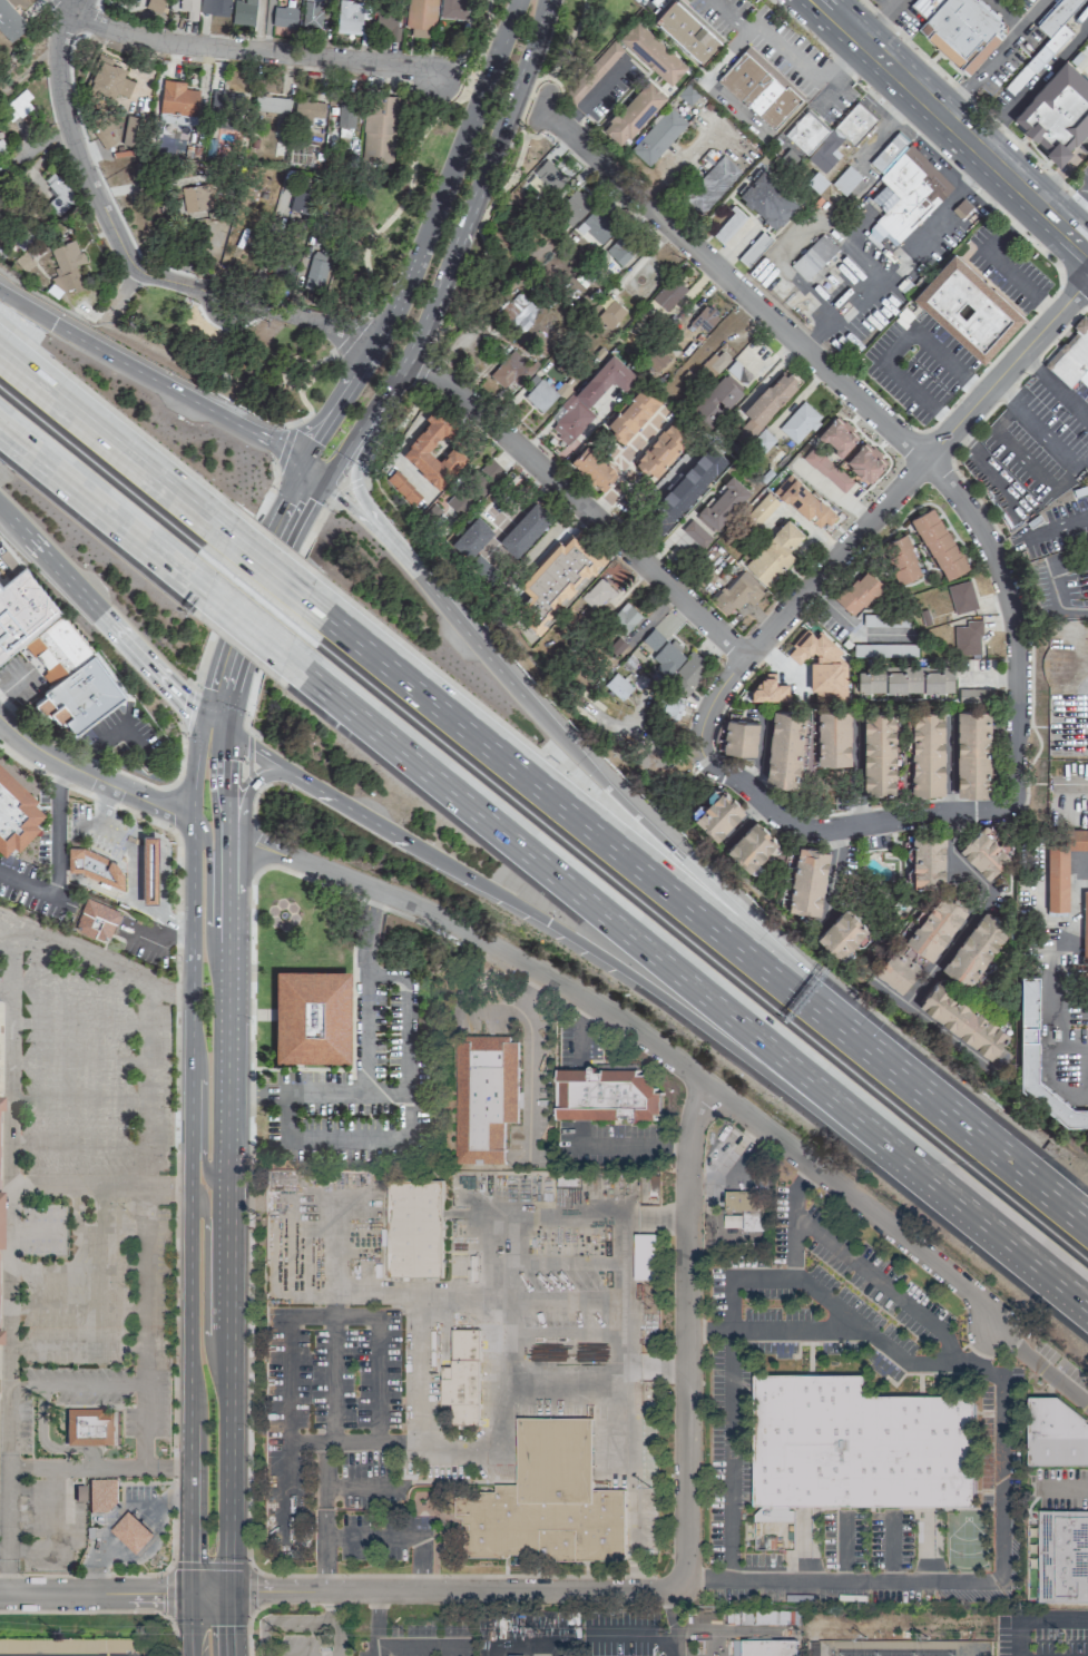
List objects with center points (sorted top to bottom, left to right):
building: (658, 2)
building: (150, 4)
building: (214, 7)
building: (188, 8)
building: (452, 9)
building: (243, 12)
building: (311, 12)
road: (1013, 13)
road: (1038, 13)
road: (884, 14)
building: (283, 16)
building: (349, 17)
building: (421, 17)
building: (10, 21)
building: (384, 21)
building: (960, 30)
building: (688, 31)
building: (1045, 43)
road: (243, 50)
building: (653, 53)
road: (989, 67)
building: (594, 71)
road: (813, 75)
building: (109, 78)
building: (761, 88)
road: (594, 95)
building: (688, 95)
building: (272, 104)
road: (974, 104)
building: (16, 106)
building: (225, 108)
building: (308, 108)
building: (1057, 111)
building: (634, 112)
building: (344, 115)
road: (962, 116)
building: (131, 130)
building: (379, 130)
building: (658, 135)
building: (829, 135)
road: (940, 135)
road: (915, 136)
road: (69, 137)
road: (411, 153)
road: (1065, 166)
building: (545, 178)
road: (509, 179)
building: (846, 180)
building: (712, 185)
building: (904, 188)
building: (55, 194)
building: (198, 197)
building: (767, 198)
building: (298, 199)
road: (1077, 203)
road: (944, 205)
building: (575, 206)
building: (728, 225)
building: (598, 226)
road: (425, 238)
road: (732, 246)
building: (754, 248)
road: (452, 249)
building: (620, 252)
building: (814, 257)
building: (66, 265)
building: (314, 268)
road: (1076, 284)
road: (121, 290)
building: (670, 294)
road: (856, 296)
road: (254, 304)
building: (517, 306)
building: (968, 307)
building: (611, 313)
building: (705, 317)
traffic signals: (51, 323)
road: (352, 334)
road: (896, 346)
building: (1072, 356)
road: (321, 359)
building: (657, 360)
building: (716, 363)
road: (280, 364)
road: (421, 370)
building: (510, 370)
road: (149, 378)
road: (1053, 385)
building: (539, 395)
building: (590, 396)
building: (716, 400)
building: (765, 403)
road: (306, 409)
building: (631, 413)
road: (878, 414)
building: (798, 422)
road: (390, 432)
road: (1040, 432)
building: (836, 434)
road: (112, 443)
road: (572, 443)
road: (282, 448)
building: (415, 448)
building: (660, 449)
road: (986, 460)
road: (623, 461)
traffic signals: (301, 462)
building: (864, 462)
building: (592, 468)
building: (826, 469)
road: (311, 471)
traffic signals: (321, 481)
road: (353, 484)
building: (474, 486)
road: (343, 488)
building: (403, 488)
building: (674, 500)
building: (804, 501)
building: (722, 503)
road: (580, 504)
building: (763, 507)
road: (517, 511)
road: (101, 513)
road: (269, 523)
road: (367, 527)
road: (1055, 528)
building: (525, 529)
building: (695, 532)
building: (471, 537)
road: (287, 539)
building: (938, 542)
building: (773, 553)
road: (842, 556)
building: (900, 558)
road: (265, 567)
road: (229, 576)
building: (857, 591)
building: (737, 592)
building: (597, 594)
building: (961, 596)
road: (1056, 599)
road: (832, 608)
building: (21, 610)
road: (99, 611)
road: (276, 614)
building: (625, 617)
building: (885, 620)
road: (244, 626)
building: (968, 638)
building: (53, 648)
building: (663, 650)
road: (220, 651)
building: (821, 665)
building: (692, 668)
building: (903, 679)
building: (617, 685)
building: (768, 689)
building: (80, 693)
building: (976, 694)
building: (674, 702)
road: (184, 705)
traffic signals: (203, 717)
traffic signals: (226, 731)
building: (738, 735)
building: (831, 736)
building: (784, 747)
building: (878, 752)
building: (927, 752)
building: (972, 752)
road: (248, 753)
road: (758, 758)
road: (108, 766)
road: (194, 767)
road: (950, 767)
road: (855, 774)
road: (91, 776)
road: (1070, 784)
road: (253, 805)
road: (174, 810)
building: (16, 812)
building: (717, 813)
road: (914, 820)
road: (241, 829)
road: (233, 837)
road: (668, 840)
building: (751, 845)
road: (617, 849)
building: (983, 852)
road: (56, 855)
building: (927, 860)
building: (94, 865)
building: (1061, 865)
building: (148, 868)
building: (807, 880)
road: (206, 902)
fountain: (285, 914)
building: (96, 920)
building: (1085, 923)
traffic signals: (546, 924)
building: (934, 924)
building: (841, 932)
road: (51, 938)
building: (974, 947)
road: (670, 967)
building: (896, 968)
road: (1052, 973)
road: (639, 982)
building: (311, 1017)
building: (962, 1018)
building: (1028, 1028)
road: (402, 1033)
road: (647, 1042)
road: (364, 1059)
road: (531, 1061)
building: (607, 1096)
building: (484, 1098)
building: (0, 1104)
road: (202, 1111)
road: (190, 1119)
road: (225, 1126)
road: (349, 1138)
road: (631, 1145)
road: (1009, 1163)
road: (174, 1186)
road: (117, 1187)
road: (243, 1192)
building: (741, 1201)
building: (745, 1222)
building: (405, 1245)
road: (792, 1245)
building: (646, 1257)
road: (871, 1275)
road: (1074, 1285)
road: (147, 1288)
road: (621, 1292)
road: (820, 1294)
road: (204, 1295)
road: (13, 1304)
road: (356, 1317)
road: (248, 1324)
road: (798, 1327)
road: (688, 1334)
building: (0, 1336)
road: (1042, 1365)
road: (418, 1378)
road: (569, 1378)
building: (463, 1379)
road: (332, 1380)
road: (71, 1384)
building: (92, 1427)
road: (732, 1431)
building: (1056, 1434)
road: (294, 1442)
road: (398, 1442)
building: (860, 1446)
parking lot: (28, 1469)
road: (41, 1469)
road: (634, 1483)
road: (330, 1487)
road: (1065, 1489)
building: (79, 1492)
building: (101, 1492)
building: (546, 1501)
road: (164, 1505)
road: (192, 1506)
building: (131, 1531)
gas station: (131, 1531)
road: (133, 1531)
road: (370, 1536)
building: (1062, 1556)
road: (101, 1561)
fountain: (159, 1561)
road: (209, 1566)
road: (974, 1581)
road: (249, 1590)
traffic signals: (192, 1591)
traffic signals: (226, 1591)
road: (340, 1591)
road: (169, 1593)
road: (376, 1598)
road: (291, 1605)
road: (331, 1607)
road: (104, 1611)
road: (1037, 1620)
road: (298, 1621)
road: (674, 1621)
road: (190, 1624)
road: (376, 1630)
road: (263, 1637)
road: (633, 1637)
building: (80, 1645)
road: (419, 1647)
building: (764, 1648)
power substation: (899, 1649)

